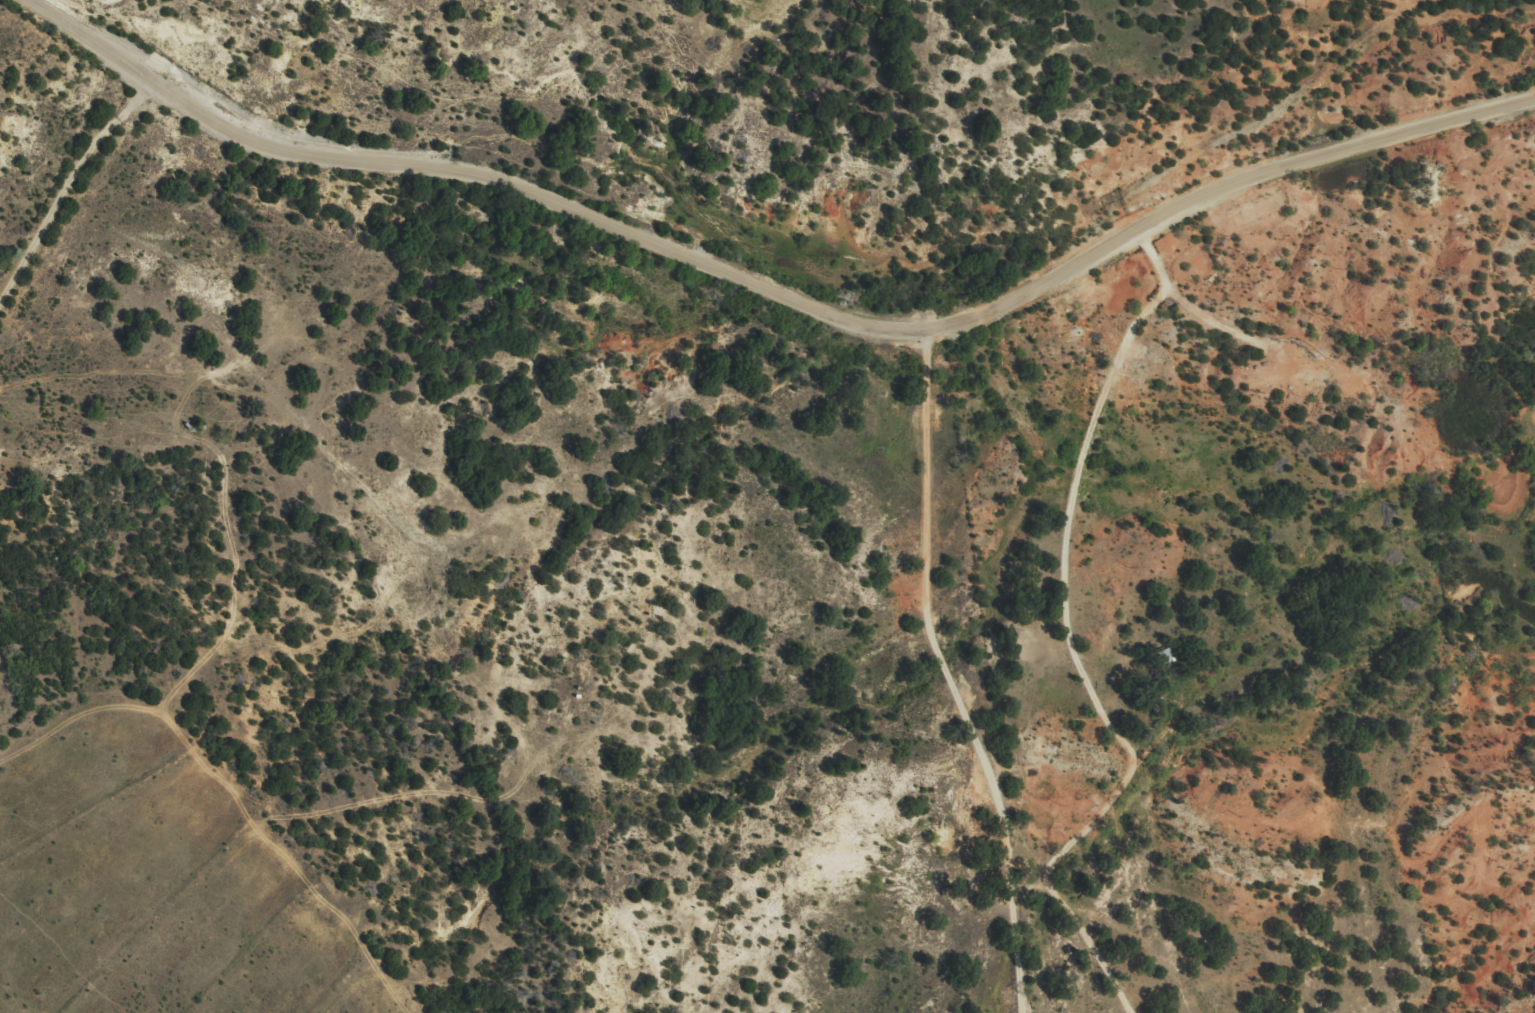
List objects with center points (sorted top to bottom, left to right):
road: (67, 181)
road: (778, 292)
road: (612, 506)
road: (730, 510)
road: (1066, 640)
road: (942, 673)

